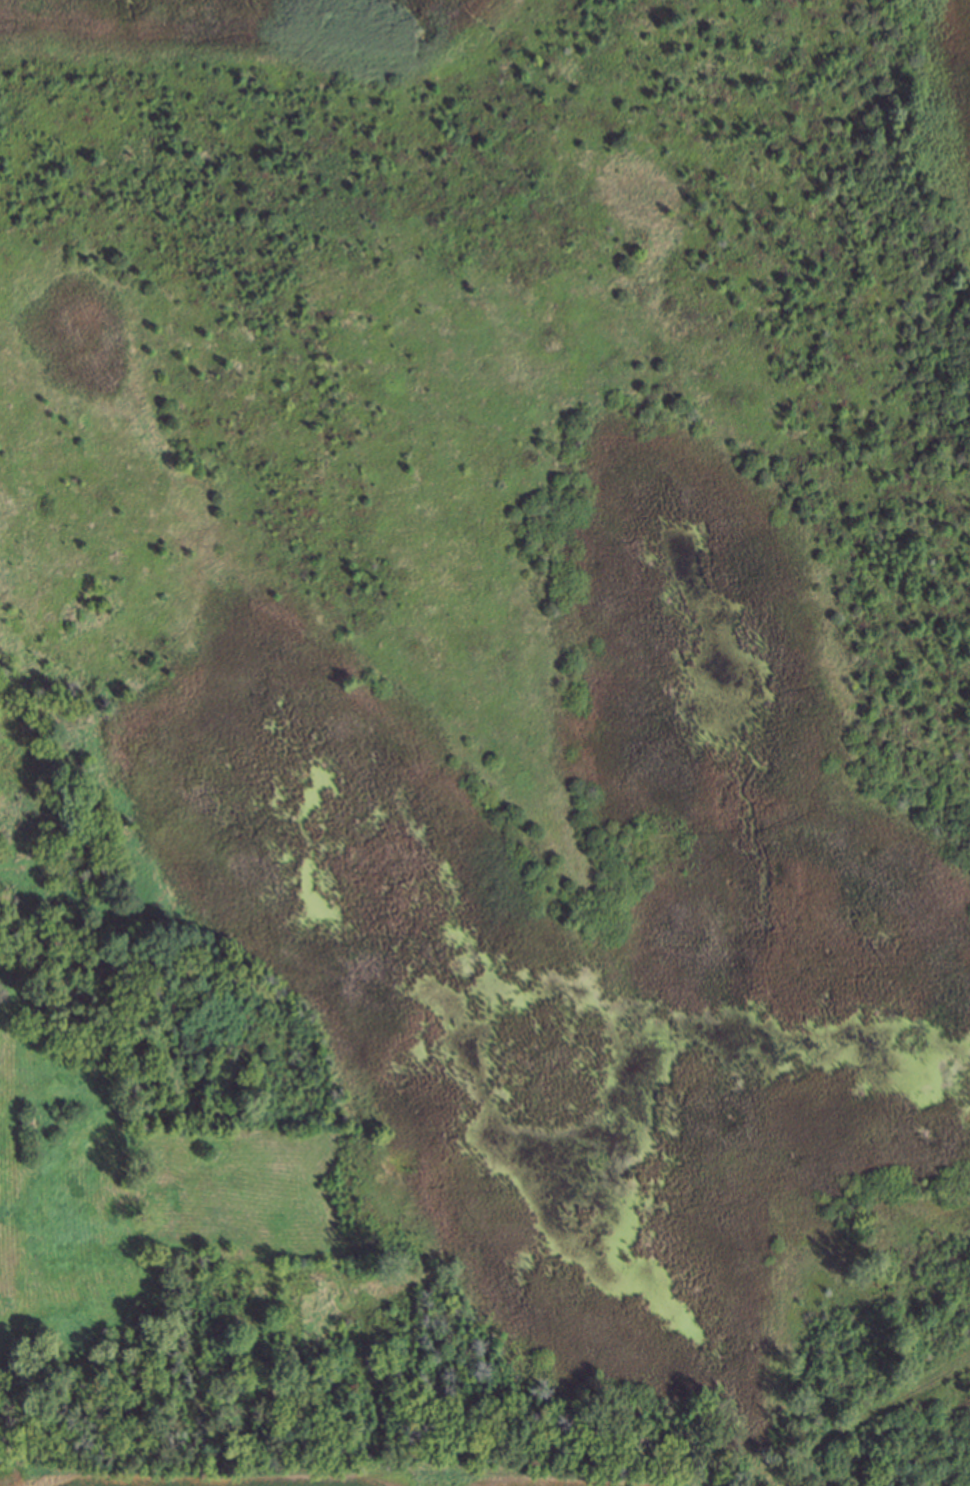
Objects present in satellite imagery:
crop: (345, 1471)

